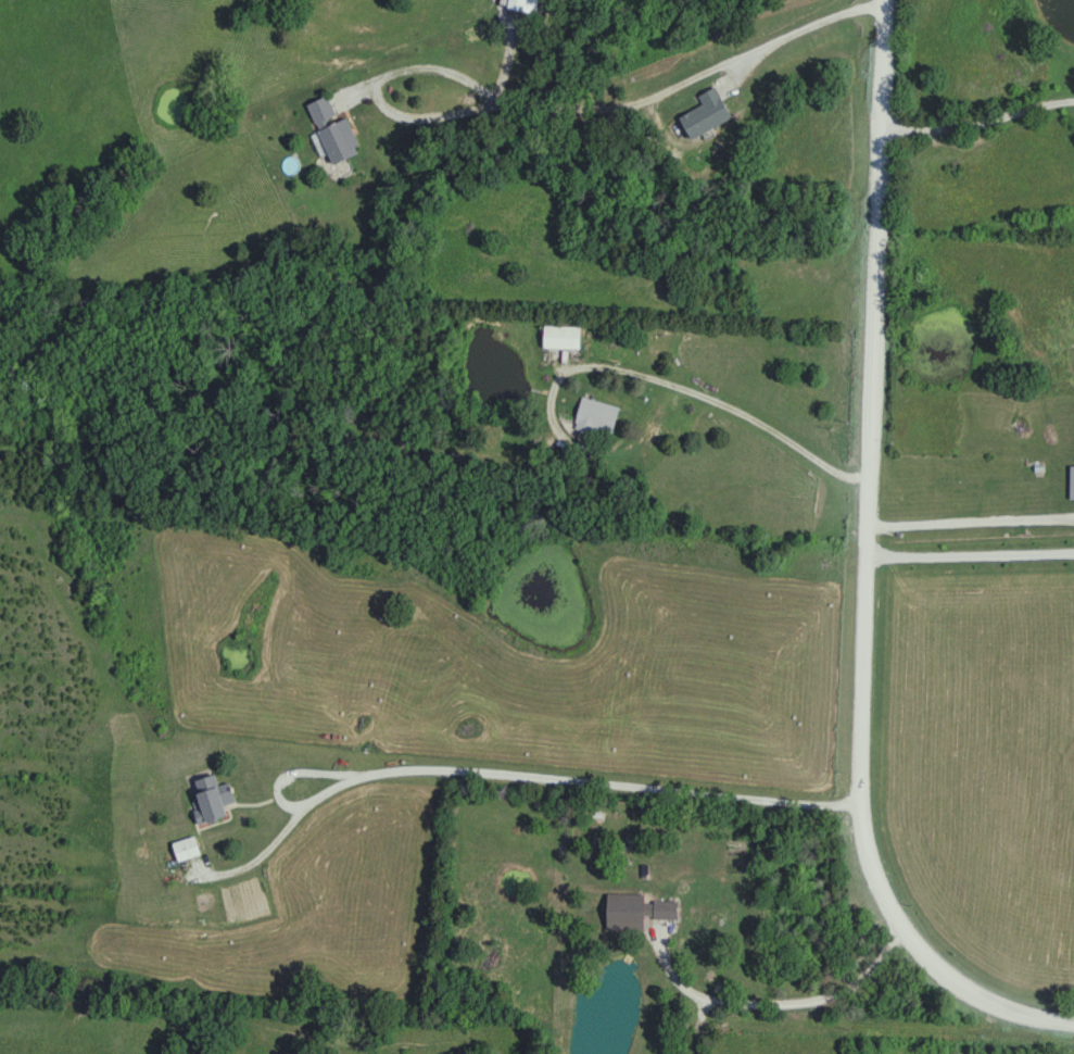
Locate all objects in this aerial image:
building: (525, 5)
road: (698, 87)
road: (389, 91)
building: (707, 113)
road: (978, 121)
building: (341, 142)
building: (563, 338)
road: (704, 393)
building: (597, 418)
building: (968, 485)
road: (968, 557)
road: (861, 576)
road: (490, 774)
building: (215, 798)
building: (187, 849)
building: (666, 911)
building: (706, 925)
road: (673, 977)
road: (796, 1001)
road: (692, 1041)

